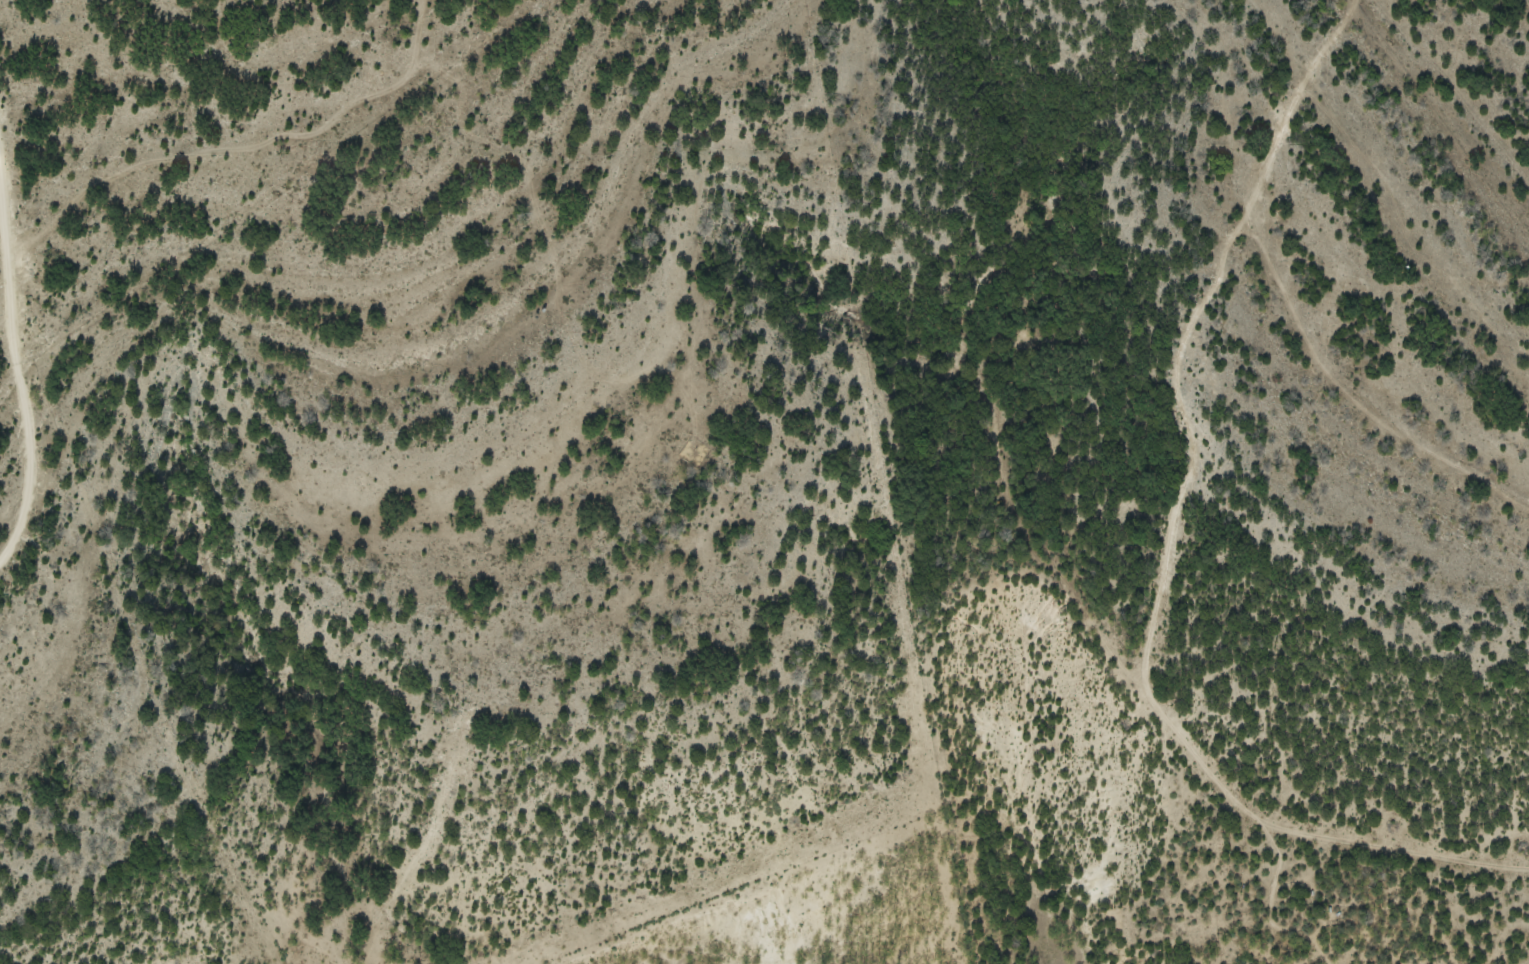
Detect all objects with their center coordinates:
road: (21, 215)

